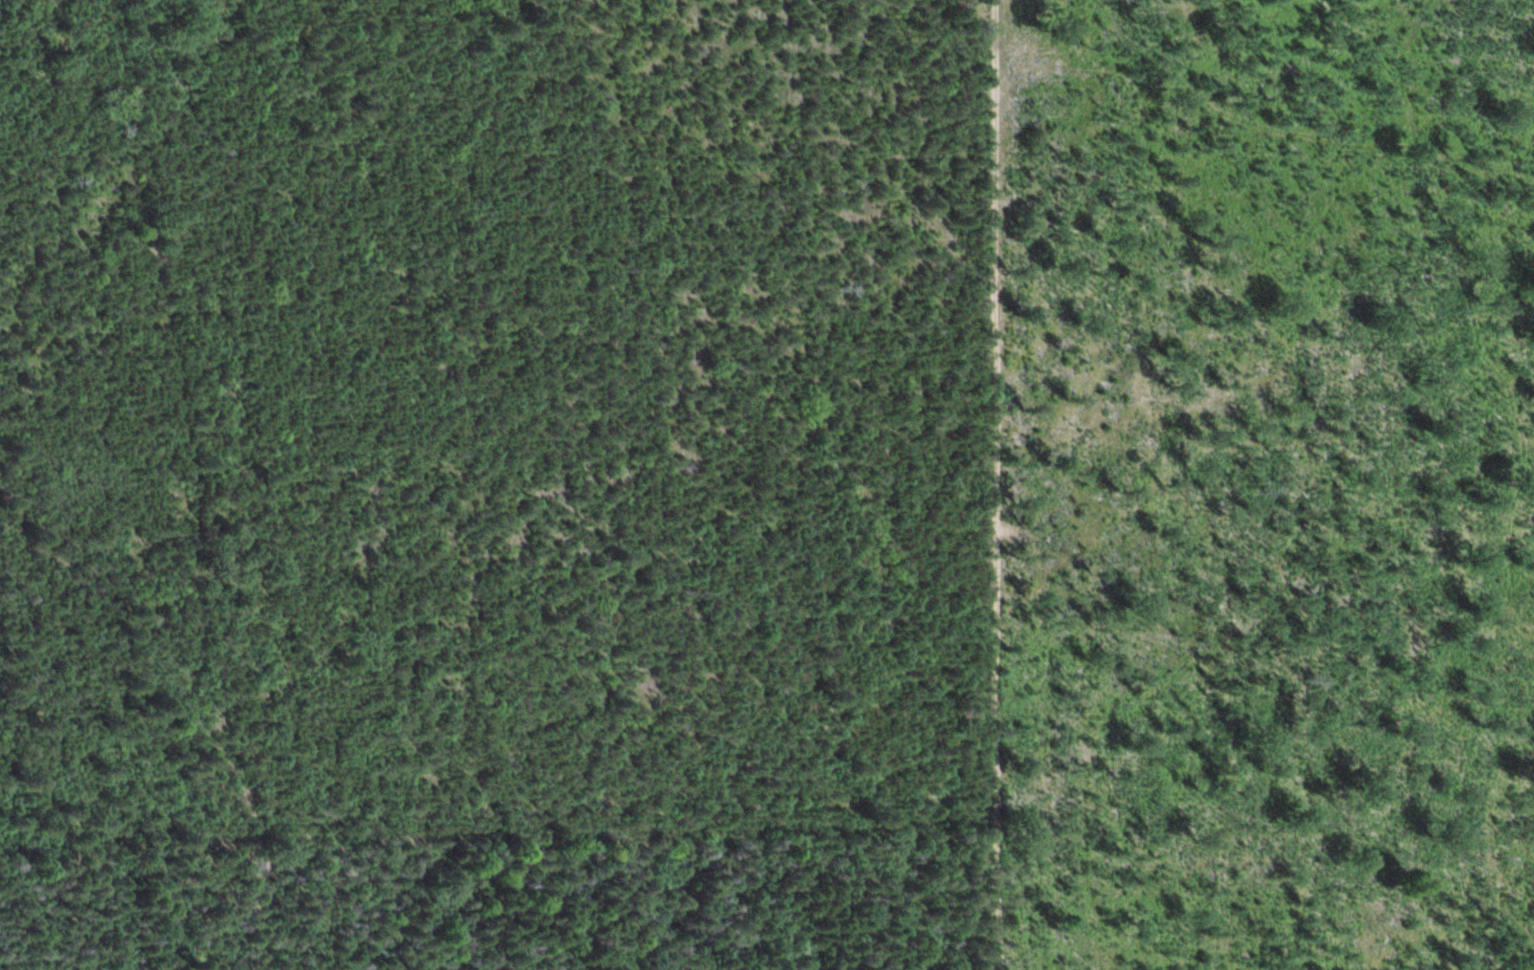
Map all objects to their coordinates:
road: (992, 485)
road: (198, 490)
road: (1532, 797)

